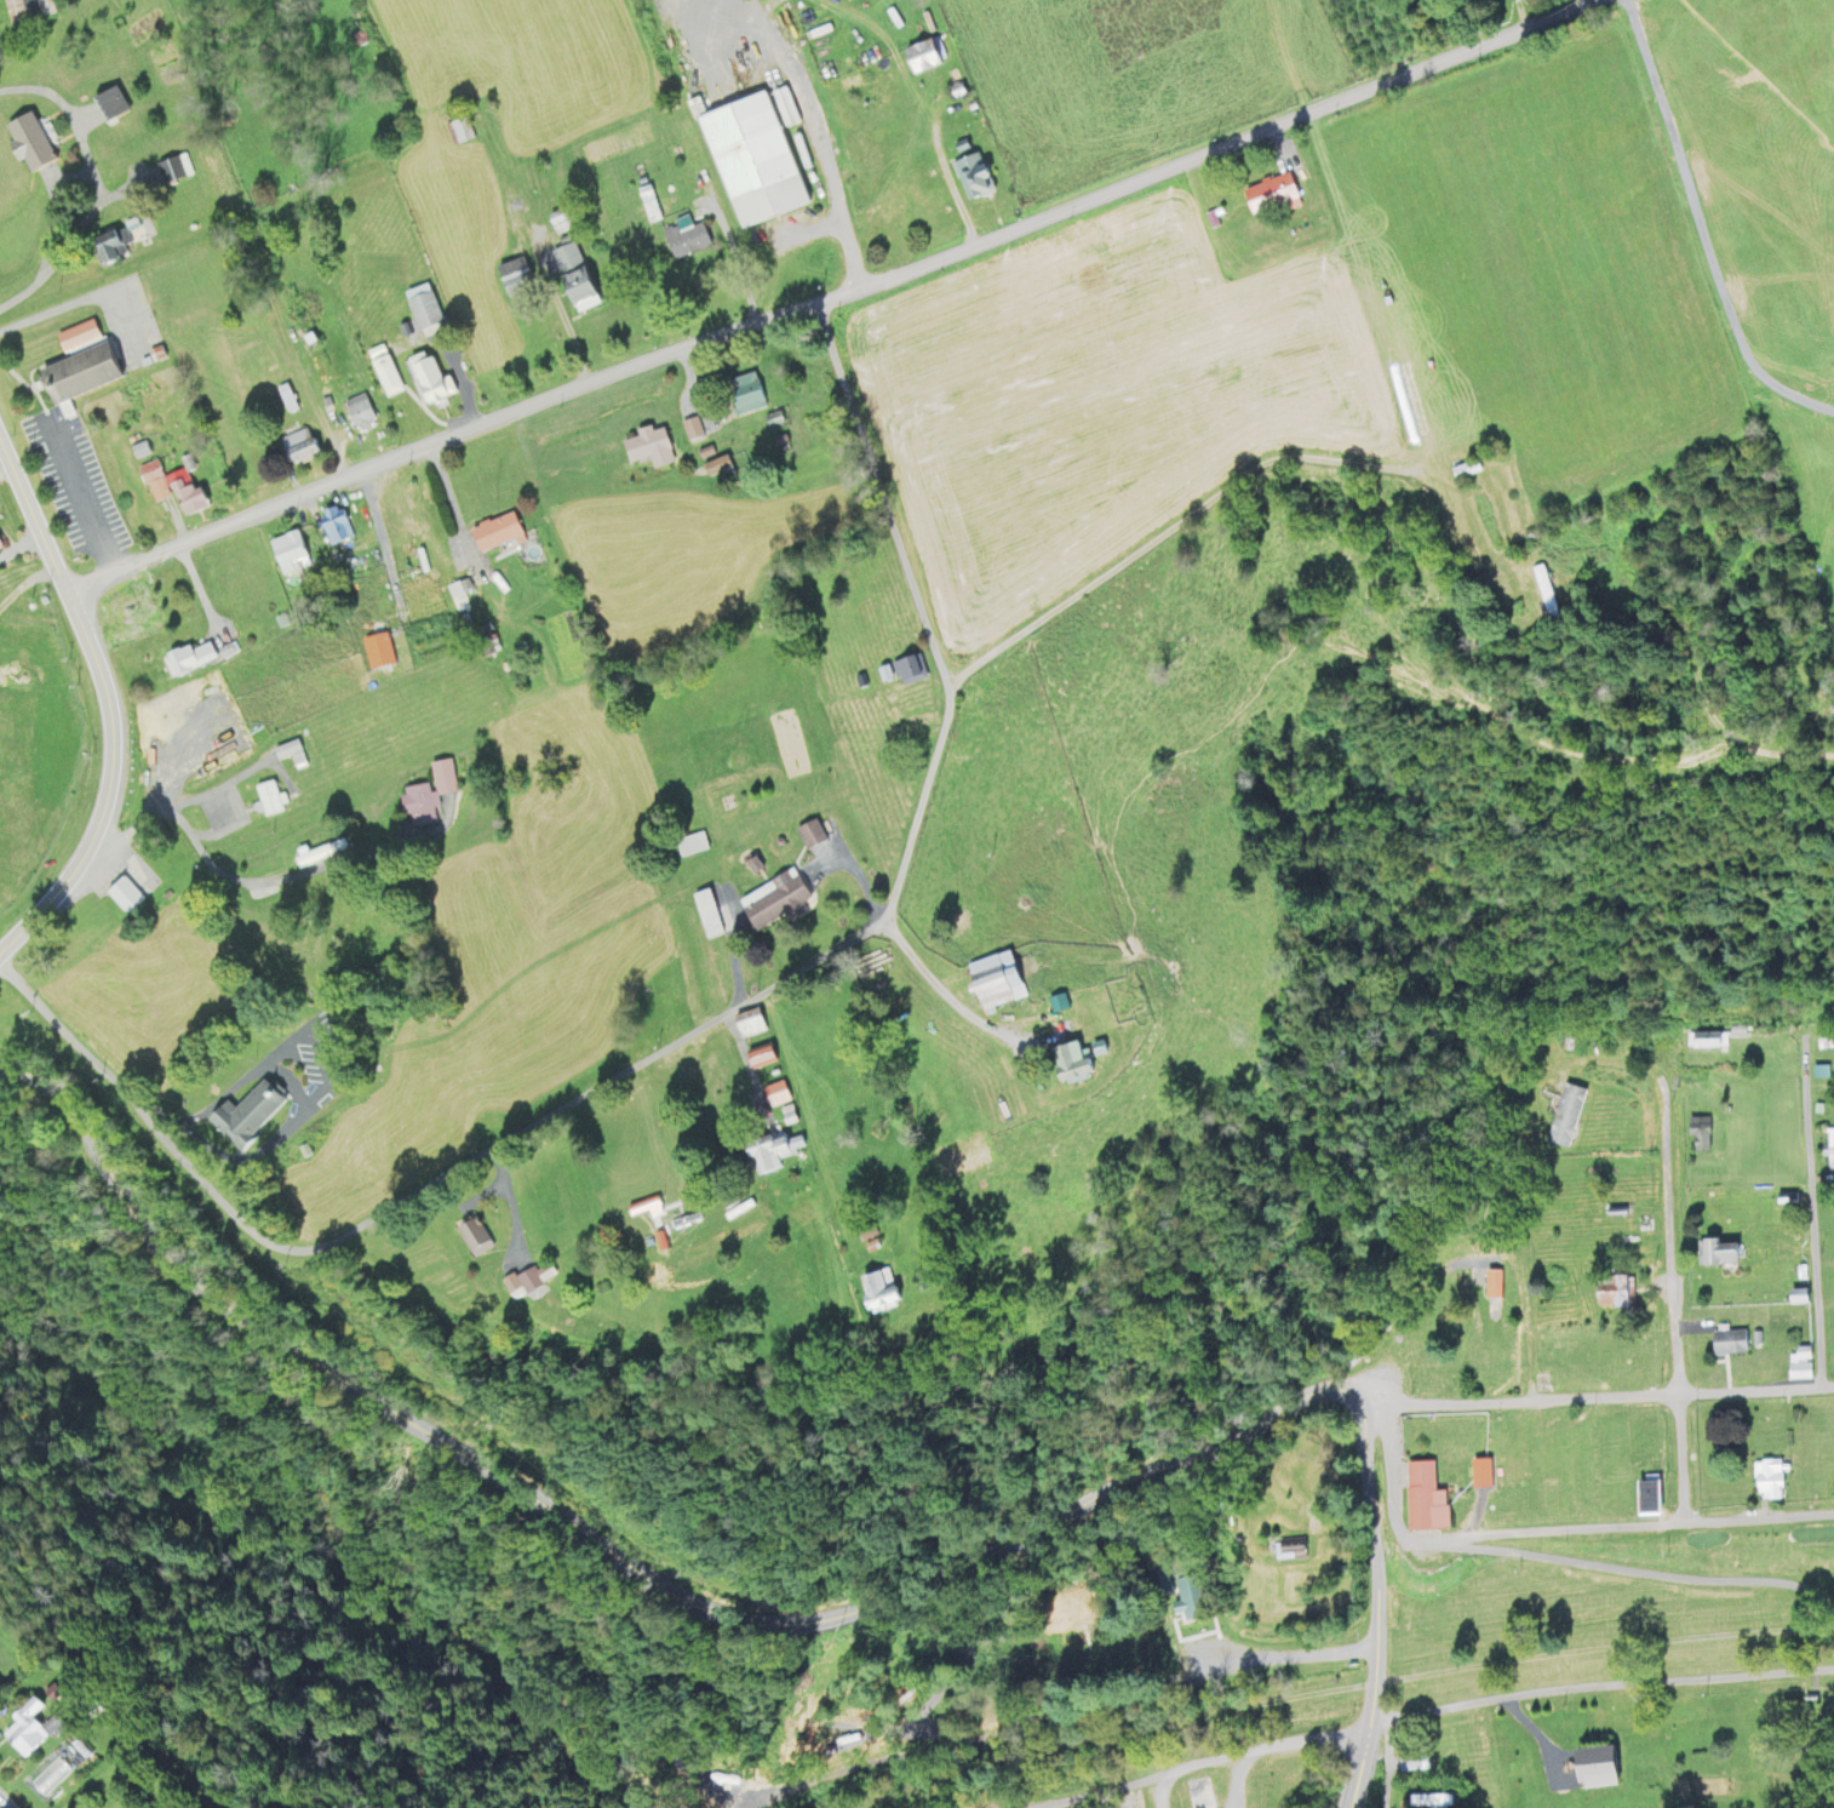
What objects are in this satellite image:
building: (28, 10)
road: (761, 16)
building: (919, 55)
building: (110, 103)
building: (459, 130)
building: (31, 142)
road: (824, 154)
building: (755, 160)
building: (170, 170)
building: (970, 176)
road: (98, 188)
building: (1273, 190)
building: (562, 223)
building: (687, 240)
building: (109, 247)
road: (258, 262)
building: (573, 275)
building: (515, 276)
road: (94, 294)
road: (820, 299)
building: (75, 332)
building: (78, 372)
building: (315, 376)
building: (432, 383)
road: (25, 387)
building: (744, 393)
building: (285, 399)
building: (359, 408)
building: (701, 430)
building: (298, 446)
building: (139, 447)
building: (648, 448)
building: (716, 469)
building: (148, 471)
building: (1463, 471)
building: (157, 490)
road: (78, 491)
building: (189, 494)
building: (336, 525)
road: (1164, 528)
building: (493, 533)
building: (0, 547)
building: (296, 554)
road: (25, 583)
building: (1541, 594)
building: (191, 660)
building: (898, 671)
building: (254, 694)
road: (110, 706)
building: (187, 750)
building: (292, 755)
building: (428, 795)
building: (271, 801)
building: (809, 834)
building: (690, 845)
road: (213, 881)
building: (126, 897)
building: (773, 900)
building: (706, 914)
building: (988, 982)
road: (939, 991)
building: (747, 1028)
road: (692, 1030)
building: (1707, 1042)
building: (757, 1060)
building: (1059, 1064)
building: (772, 1095)
road: (220, 1098)
building: (1564, 1116)
building: (253, 1117)
building: (1700, 1139)
building: (1829, 1151)
building: (762, 1154)
road: (1812, 1207)
building: (855, 1232)
building: (466, 1238)
road: (1672, 1238)
building: (1716, 1254)
building: (1475, 1276)
building: (517, 1282)
building: (865, 1292)
building: (1612, 1292)
building: (1727, 1343)
building: (1348, 1361)
building: (1798, 1366)
road: (1597, 1396)
road: (1680, 1460)
road: (1394, 1478)
building: (1766, 1481)
building: (1555, 1495)
building: (1422, 1499)
building: (1645, 1499)
building: (1509, 1503)
road: (1624, 1530)
building: (1286, 1555)
road: (621, 1563)
road: (1626, 1568)
building: (1158, 1579)
building: (1190, 1600)
road: (1376, 1609)
road: (1332, 1688)
road: (1600, 1688)
building: (76, 1710)
building: (1718, 1712)
building: (21, 1732)
road: (1273, 1750)
building: (1411, 1764)
building: (1592, 1770)
road: (1105, 1790)
building: (1429, 1802)

